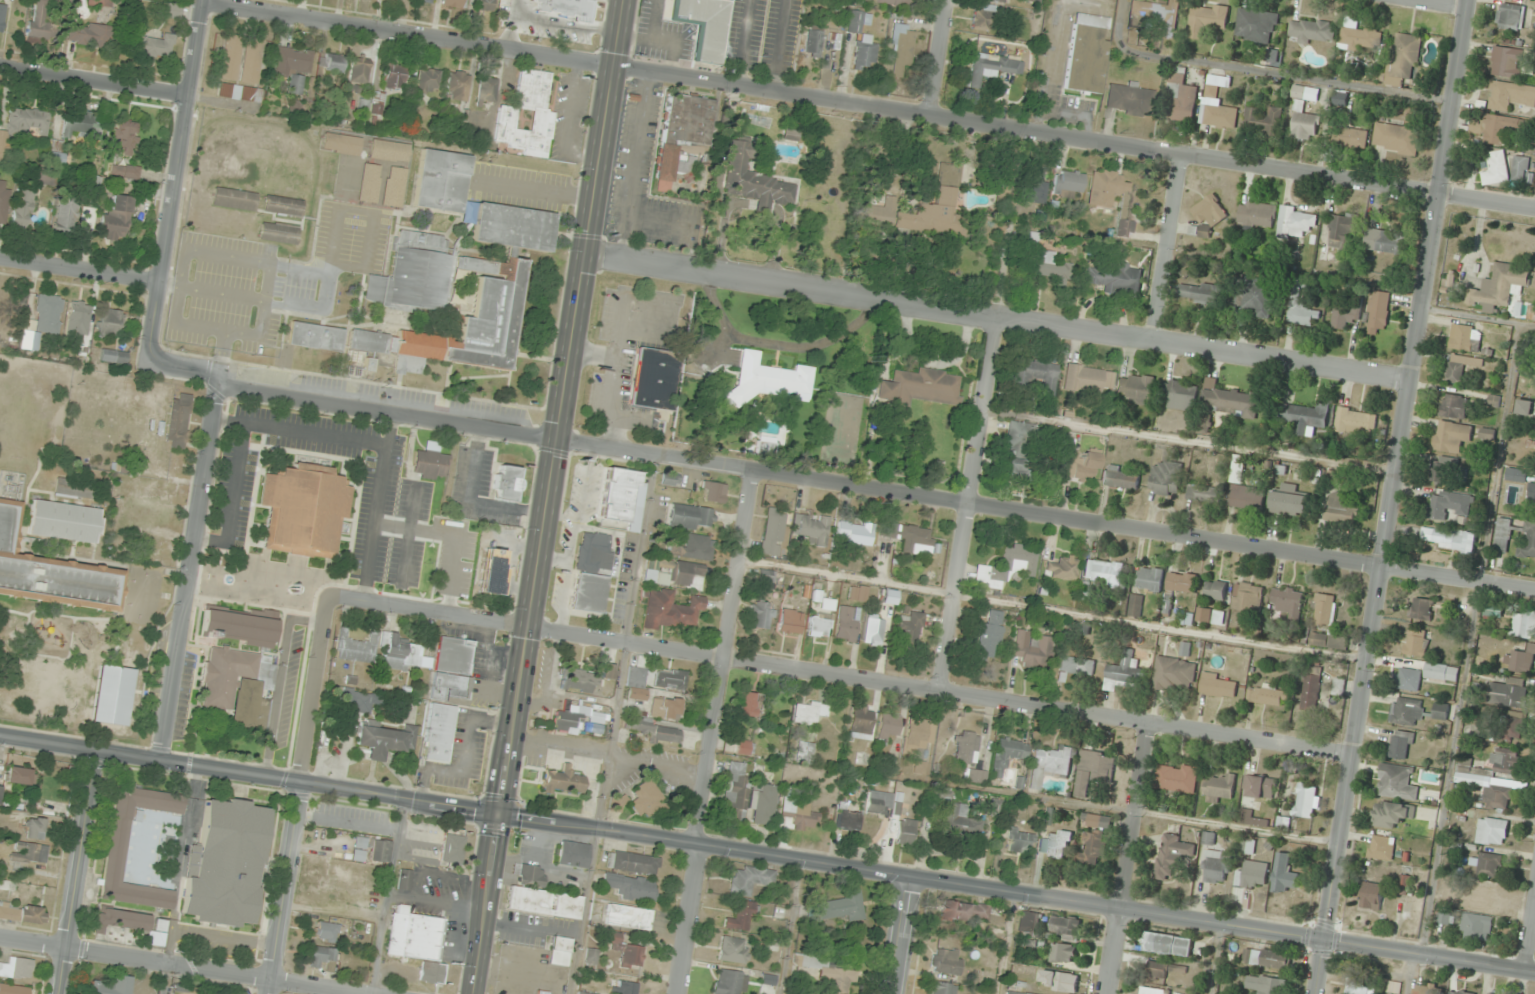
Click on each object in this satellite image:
building: (1033, 0)
park: (181, 1)
building: (427, 1)
building: (998, 1)
building: (893, 2)
building: (454, 3)
road: (1436, 4)
building: (485, 5)
building: (565, 8)
building: (2, 16)
building: (1156, 16)
building: (983, 17)
building: (1510, 17)
building: (1207, 20)
building: (41, 23)
building: (705, 25)
building: (1256, 26)
building: (1312, 31)
building: (89, 34)
building: (1360, 36)
building: (813, 40)
building: (862, 40)
building: (155, 45)
building: (902, 50)
building: (1086, 53)
building: (1272, 56)
building: (231, 57)
road: (941, 58)
building: (1509, 60)
building: (1403, 61)
building: (252, 62)
building: (331, 62)
building: (293, 66)
building: (992, 67)
building: (358, 72)
road: (1262, 72)
building: (395, 76)
road: (94, 80)
building: (428, 81)
building: (458, 85)
building: (487, 89)
building: (1211, 91)
building: (242, 93)
building: (1510, 95)
building: (1180, 97)
building: (1128, 98)
road: (869, 106)
building: (1305, 115)
building: (1219, 116)
building: (542, 118)
building: (1263, 120)
building: (27, 121)
building: (82, 126)
building: (1504, 128)
building: (681, 133)
building: (1348, 137)
building: (123, 138)
building: (1396, 139)
building: (5, 147)
building: (57, 151)
road: (633, 167)
building: (1496, 169)
building: (1520, 169)
building: (125, 171)
building: (754, 179)
building: (441, 180)
road: (176, 181)
building: (1068, 182)
road: (531, 187)
building: (234, 198)
building: (1100, 200)
building: (3, 201)
building: (282, 205)
building: (22, 207)
building: (936, 207)
building: (880, 212)
building: (66, 214)
building: (1256, 215)
building: (87, 216)
building: (1209, 216)
building: (116, 220)
road: (660, 221)
building: (1296, 222)
building: (1340, 231)
building: (278, 233)
building: (1384, 242)
road: (1163, 247)
building: (1049, 266)
road: (81, 271)
road: (330, 277)
building: (1113, 279)
building: (1500, 287)
road: (180, 290)
building: (457, 291)
building: (1199, 293)
building: (1254, 296)
building: (1301, 307)
building: (1379, 312)
building: (1531, 312)
building: (46, 315)
building: (1345, 315)
building: (78, 316)
road: (996, 316)
road: (1477, 318)
building: (111, 322)
building: (315, 336)
building: (1464, 337)
road: (224, 355)
building: (114, 356)
building: (1459, 368)
building: (1038, 374)
building: (653, 378)
building: (1087, 378)
building: (771, 379)
building: (918, 387)
building: (1135, 387)
building: (1179, 395)
building: (1230, 402)
building: (1455, 407)
building: (1524, 408)
road: (980, 409)
building: (1304, 415)
building: (178, 419)
building: (1356, 422)
building: (1204, 425)
building: (53, 428)
road: (298, 431)
building: (1451, 437)
building: (1018, 438)
building: (160, 462)
building: (428, 463)
building: (1081, 465)
building: (1013, 468)
building: (1239, 469)
building: (1441, 469)
building: (1516, 475)
building: (1121, 477)
building: (1166, 478)
building: (671, 479)
building: (504, 482)
road: (840, 485)
building: (74, 488)
building: (713, 491)
building: (1204, 493)
building: (618, 494)
building: (1532, 495)
road: (1391, 496)
road: (545, 497)
building: (1247, 497)
road: (232, 499)
building: (1290, 504)
road: (377, 505)
building: (1448, 505)
building: (1341, 509)
building: (302, 510)
building: (690, 517)
building: (64, 521)
building: (811, 528)
building: (773, 531)
building: (854, 533)
road: (407, 534)
road: (454, 534)
building: (1503, 535)
building: (907, 536)
building: (1449, 539)
building: (1528, 545)
building: (693, 547)
building: (593, 551)
building: (1006, 566)
building: (492, 568)
building: (1062, 568)
road: (188, 569)
building: (52, 572)
building: (686, 573)
building: (1104, 575)
building: (765, 576)
fountain: (227, 579)
building: (1150, 579)
building: (1181, 583)
building: (1216, 590)
building: (589, 592)
building: (857, 593)
building: (1247, 598)
building: (1287, 602)
building: (1136, 605)
building: (671, 609)
building: (1421, 609)
building: (1324, 610)
building: (1493, 611)
building: (761, 617)
building: (791, 622)
building: (846, 624)
building: (1523, 624)
building: (237, 625)
building: (818, 626)
building: (910, 628)
building: (873, 630)
building: (989, 636)
road: (1469, 640)
building: (1324, 641)
building: (1415, 643)
building: (355, 648)
building: (1032, 648)
building: (402, 654)
building: (1520, 660)
building: (1076, 667)
building: (451, 669)
building: (607, 671)
building: (1124, 672)
building: (1441, 672)
road: (841, 674)
building: (1174, 674)
building: (670, 678)
road: (279, 679)
building: (1408, 679)
building: (579, 680)
building: (636, 682)
building: (234, 685)
building: (1219, 686)
building: (1310, 686)
building: (1268, 695)
building: (1508, 695)
building: (746, 704)
building: (666, 708)
building: (1441, 711)
building: (1406, 712)
building: (807, 713)
building: (580, 720)
building: (860, 722)
building: (886, 728)
building: (1510, 728)
building: (656, 731)
road: (713, 732)
building: (439, 733)
building: (919, 735)
building: (386, 740)
building: (1400, 745)
building: (742, 747)
building: (964, 748)
building: (803, 750)
building: (1007, 754)
building: (1503, 761)
building: (1051, 764)
building: (1093, 771)
building: (18, 775)
building: (974, 776)
building: (1176, 778)
building: (562, 782)
building: (1396, 783)
building: (1262, 787)
building: (1220, 788)
building: (0, 790)
building: (735, 791)
road: (300, 795)
building: (1496, 798)
building: (650, 800)
building: (1306, 801)
building: (879, 802)
building: (616, 803)
building: (763, 804)
traffic signals: (497, 813)
building: (801, 815)
building: (1391, 815)
building: (847, 820)
building: (959, 822)
building: (33, 828)
building: (905, 831)
building: (1491, 831)
building: (1096, 840)
building: (1019, 841)
building: (1057, 845)
building: (1247, 847)
building: (116, 848)
building: (450, 848)
building: (1381, 849)
building: (379, 851)
building: (29, 852)
building: (573, 854)
road: (767, 855)
building: (1172, 856)
road: (1128, 860)
building: (633, 862)
building: (226, 863)
road: (181, 864)
building: (1487, 865)
building: (1216, 867)
road: (77, 871)
building: (529, 874)
building: (1252, 875)
building: (1283, 878)
building: (404, 879)
building: (749, 879)
building: (631, 887)
building: (1371, 896)
building: (333, 899)
building: (543, 902)
building: (842, 907)
building: (964, 911)
building: (21, 913)
building: (628, 917)
building: (740, 917)
building: (1441, 917)
building: (120, 920)
building: (1028, 922)
building: (1476, 927)
road: (1528, 927)
building: (1065, 928)
building: (326, 931)
road: (900, 935)
building: (156, 939)
road: (224, 939)
building: (416, 941)
traffic signals: (1324, 943)
building: (1168, 945)
building: (733, 950)
building: (559, 951)
building: (626, 951)
building: (1063, 953)
building: (591, 955)
building: (320, 956)
building: (1266, 959)
building: (946, 961)
road: (184, 965)
building: (17, 968)
building: (1157, 971)
road: (1407, 974)
building: (830, 975)
building: (1062, 981)
building: (729, 982)
building: (1265, 985)
building: (1358, 985)
building: (113, 986)
building: (625, 987)
building: (1015, 987)
building: (942, 988)
building: (13, 989)
building: (1425, 990)
building: (1155, 991)
building: (1458, 992)
building: (584, 993)

